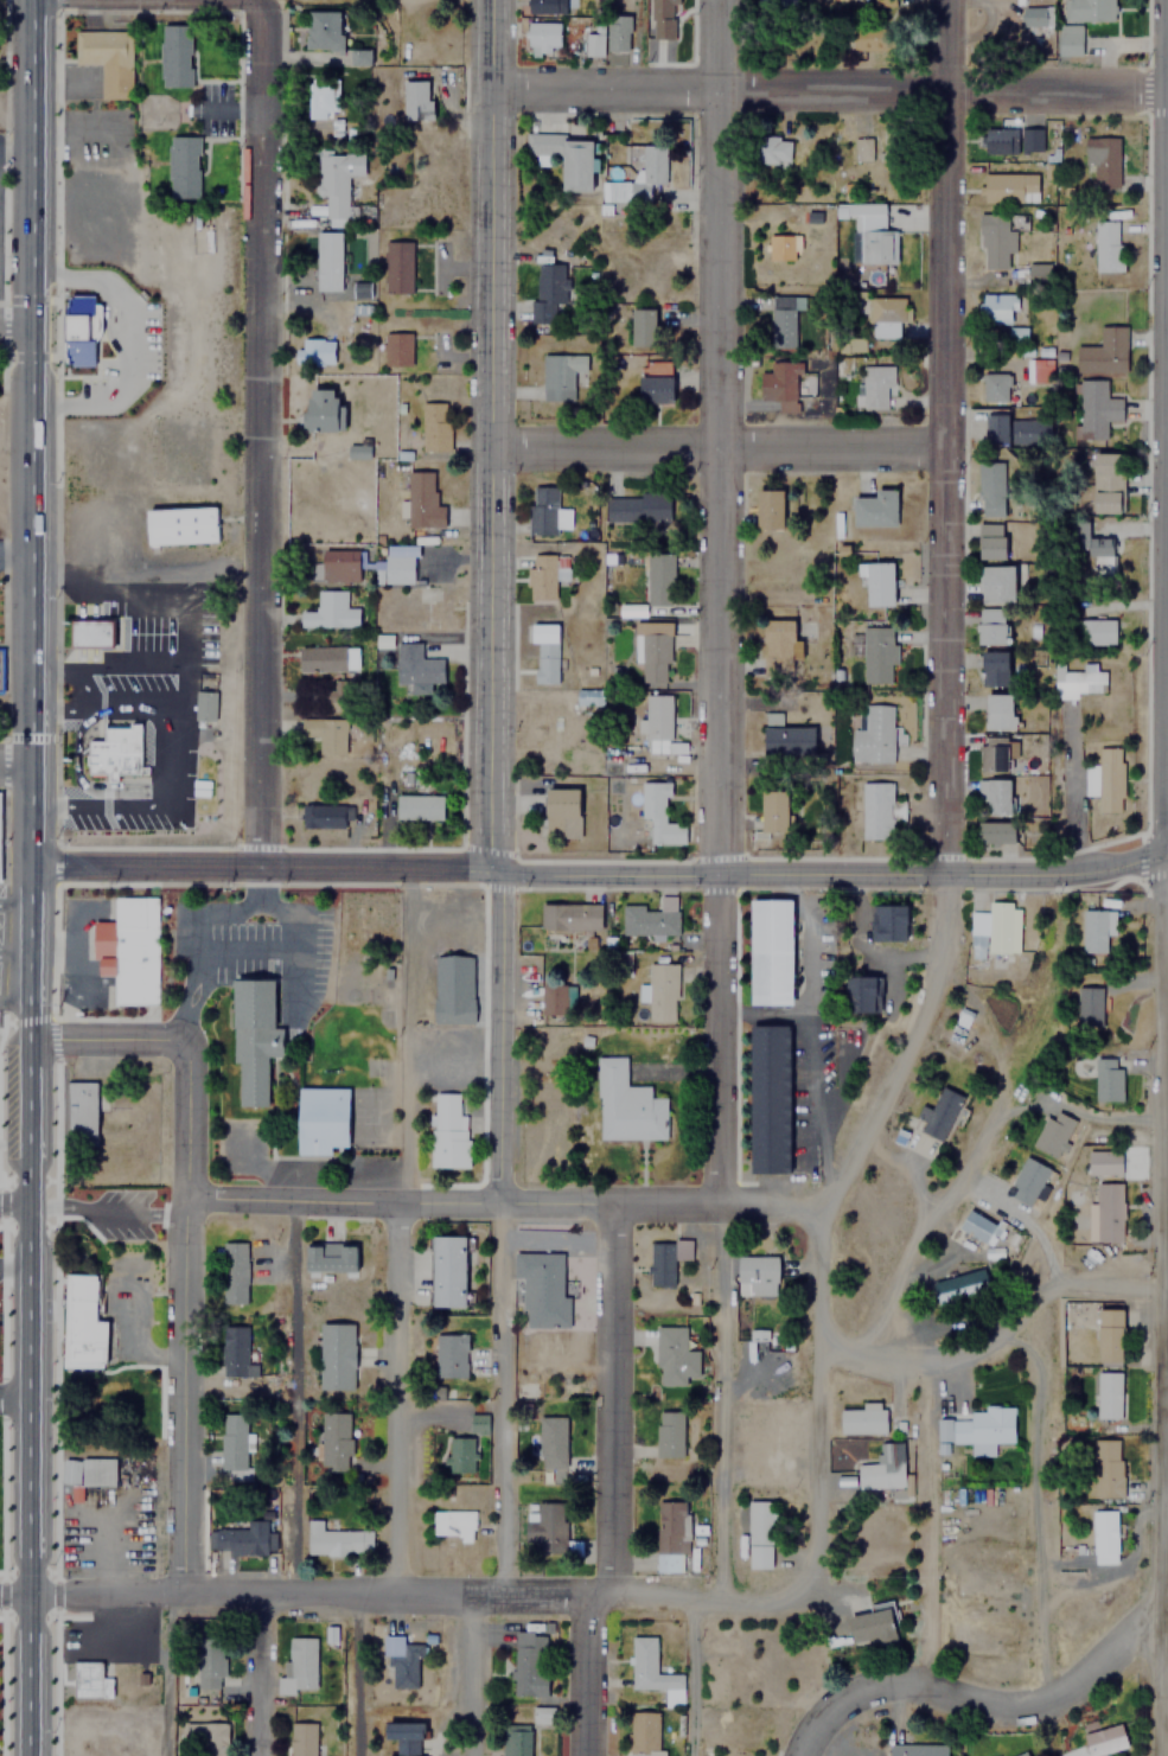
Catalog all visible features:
road: (147, 2)
building: (777, 2)
building: (545, 6)
building: (882, 8)
building: (1086, 9)
building: (658, 17)
building: (1035, 17)
building: (325, 27)
building: (617, 33)
building: (543, 36)
building: (874, 39)
building: (1067, 39)
building: (588, 44)
building: (175, 53)
building: (363, 56)
building: (104, 58)
road: (825, 94)
building: (323, 98)
building: (416, 98)
building: (540, 136)
building: (996, 141)
building: (1022, 141)
building: (891, 143)
road: (1166, 143)
building: (774, 148)
building: (860, 148)
building: (653, 161)
building: (1099, 162)
building: (576, 164)
building: (184, 166)
building: (334, 179)
building: (1008, 187)
building: (867, 231)
building: (993, 237)
building: (1105, 245)
building: (780, 251)
building: (331, 261)
building: (398, 263)
building: (1036, 273)
building: (363, 289)
building: (548, 292)
building: (995, 308)
building: (885, 317)
building: (643, 326)
building: (781, 326)
road: (14, 327)
building: (81, 327)
building: (1015, 333)
building: (397, 349)
building: (315, 351)
building: (1102, 351)
road: (1166, 356)
building: (1036, 370)
building: (561, 373)
building: (656, 383)
building: (779, 383)
building: (875, 384)
building: (994, 387)
building: (1092, 409)
building: (323, 413)
building: (434, 426)
building: (1015, 429)
road: (30, 432)
road: (260, 434)
road: (487, 434)
road: (945, 435)
road: (715, 447)
building: (358, 451)
road: (1167, 481)
building: (1105, 483)
building: (990, 487)
building: (421, 500)
building: (637, 507)
building: (542, 509)
building: (770, 509)
building: (875, 509)
building: (180, 525)
building: (993, 541)
building: (1089, 547)
road: (14, 548)
building: (339, 564)
building: (400, 564)
building: (543, 574)
building: (658, 577)
building: (877, 582)
building: (997, 582)
road: (721, 602)
building: (328, 612)
building: (991, 625)
building: (90, 632)
building: (1089, 632)
building: (780, 647)
building: (652, 650)
building: (544, 652)
building: (876, 652)
building: (326, 658)
building: (416, 665)
building: (996, 669)
building: (0, 670)
building: (1078, 681)
building: (332, 690)
building: (592, 697)
building: (203, 705)
building: (998, 711)
building: (657, 721)
building: (324, 733)
building: (873, 734)
building: (787, 739)
building: (114, 752)
building: (994, 754)
road: (13, 768)
building: (1105, 780)
building: (993, 797)
building: (417, 807)
building: (875, 810)
building: (774, 811)
building: (562, 812)
building: (658, 813)
building: (321, 816)
building: (996, 832)
road: (599, 873)
road: (1163, 877)
road: (13, 902)
building: (569, 917)
building: (649, 919)
building: (882, 925)
building: (997, 926)
building: (1093, 931)
building: (128, 950)
road: (13, 952)
building: (771, 952)
building: (452, 989)
building: (660, 992)
building: (861, 995)
building: (553, 998)
road: (13, 1001)
building: (1087, 1004)
road: (26, 1034)
building: (253, 1035)
road: (499, 1035)
road: (103, 1039)
road: (902, 1046)
building: (1108, 1078)
building: (771, 1099)
building: (626, 1104)
building: (78, 1107)
building: (939, 1113)
building: (321, 1119)
building: (447, 1131)
building: (1052, 1132)
building: (1104, 1161)
building: (1025, 1179)
road: (500, 1203)
road: (12, 1205)
road: (103, 1212)
building: (1105, 1213)
building: (976, 1225)
building: (328, 1256)
building: (665, 1257)
building: (446, 1270)
building: (231, 1271)
building: (757, 1275)
building: (958, 1285)
building: (542, 1288)
road: (183, 1315)
building: (82, 1323)
building: (1109, 1334)
road: (998, 1337)
building: (234, 1350)
building: (336, 1354)
building: (449, 1355)
building: (672, 1355)
building: (1106, 1394)
road: (288, 1396)
road: (395, 1396)
road: (500, 1398)
road: (23, 1403)
road: (818, 1404)
building: (861, 1417)
building: (982, 1428)
building: (669, 1432)
building: (333, 1439)
building: (551, 1441)
building: (231, 1444)
building: (460, 1452)
building: (882, 1467)
building: (1105, 1467)
building: (85, 1470)
road: (611, 1483)
road: (1043, 1496)
building: (452, 1522)
building: (671, 1522)
building: (547, 1527)
building: (758, 1533)
building: (1102, 1535)
building: (241, 1538)
building: (336, 1539)
building: (668, 1560)
road: (410, 1590)
road: (12, 1601)
building: (874, 1627)
building: (400, 1660)
building: (209, 1661)
building: (529, 1662)
building: (296, 1667)
building: (652, 1671)
road: (167, 1673)
road: (357, 1673)
road: (470, 1674)
road: (262, 1675)
road: (24, 1679)
building: (89, 1680)
park: (1, 1686)
road: (982, 1706)
building: (541, 1715)
building: (644, 1733)
building: (203, 1736)
building: (406, 1737)
building: (300, 1738)
building: (1106, 1741)
building: (516, 1742)
building: (918, 1750)
building: (1023, 1754)
building: (1028, 1754)

